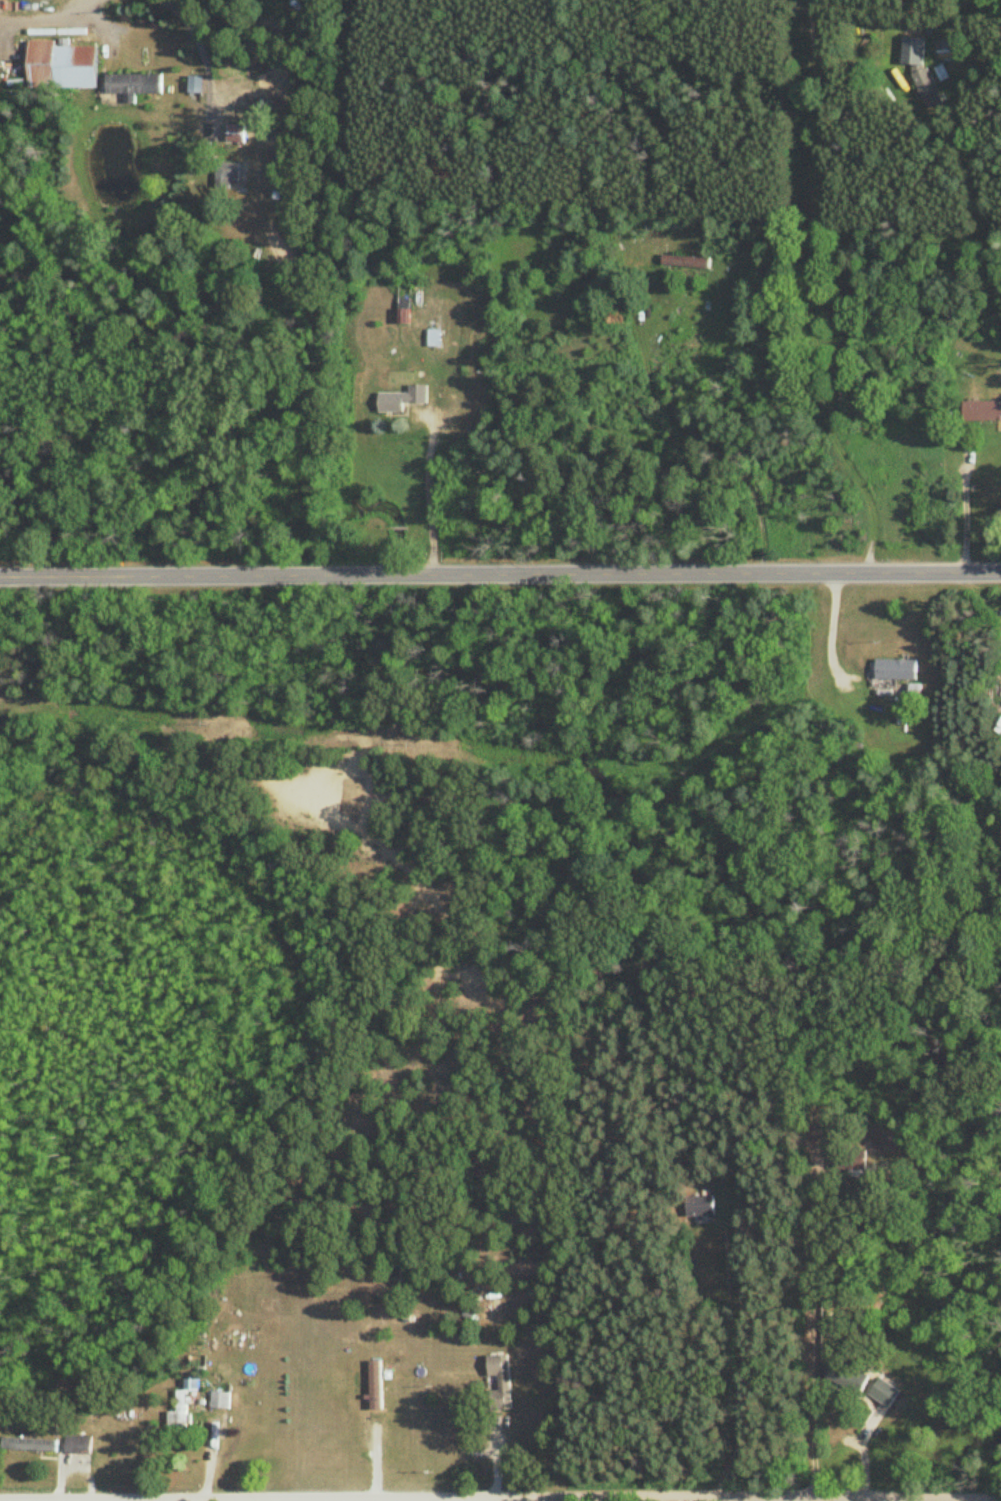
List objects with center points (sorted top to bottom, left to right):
road: (50, 13)
road: (190, 31)
building: (912, 53)
building: (61, 66)
building: (134, 84)
building: (227, 175)
building: (673, 223)
building: (685, 262)
road: (795, 288)
building: (433, 338)
building: (402, 400)
building: (982, 411)
road: (424, 497)
road: (963, 515)
road: (500, 574)
building: (896, 669)
building: (851, 1161)
building: (700, 1207)
road: (809, 1345)
road: (742, 1373)
building: (846, 1377)
building: (501, 1381)
building: (375, 1386)
building: (883, 1393)
building: (220, 1400)
building: (180, 1416)
building: (47, 1425)
building: (79, 1445)
building: (31, 1446)
road: (484, 1500)
road: (581, 1500)

